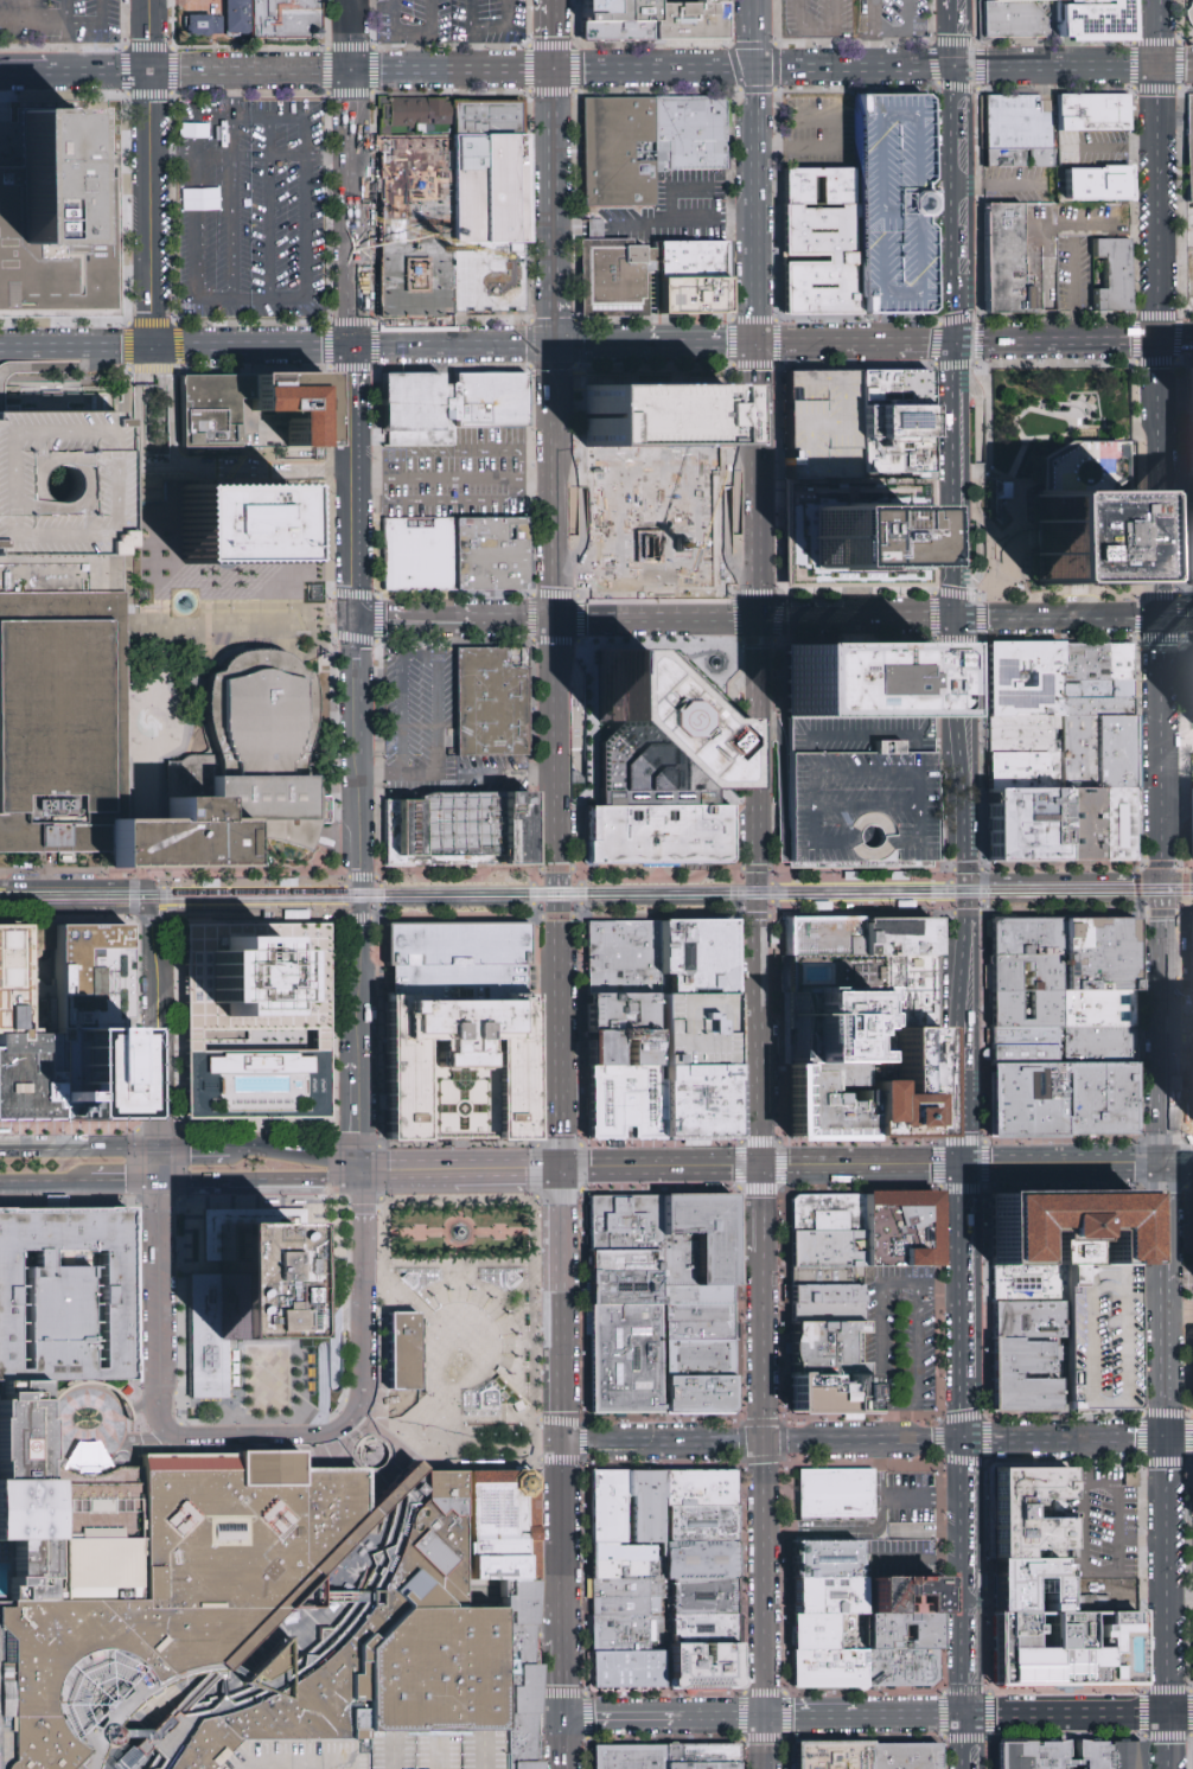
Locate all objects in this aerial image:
road: (549, 1)
road: (391, 4)
building: (619, 11)
road: (872, 15)
building: (1189, 17)
parking lot: (666, 18)
building: (221, 19)
parking lot: (821, 19)
building: (1020, 19)
building: (1092, 19)
parking lot: (454, 20)
parking lot: (893, 20)
parking lot: (59, 21)
road: (662, 21)
road: (25, 23)
road: (47, 23)
road: (83, 23)
building: (691, 23)
building: (288, 25)
road: (489, 26)
road: (905, 31)
road: (819, 32)
road: (394, 33)
building: (620, 33)
road: (755, 33)
road: (148, 34)
road: (550, 34)
road: (66, 46)
road: (471, 46)
road: (873, 49)
road: (663, 55)
traffic signals: (551, 65)
road: (350, 66)
road: (872, 66)
traffic signals: (350, 68)
traffic signals: (957, 68)
traffic signals: (1159, 68)
road: (97, 69)
traffic signals: (148, 69)
road: (24, 70)
road: (231, 94)
road: (755, 102)
building: (1093, 114)
building: (416, 116)
building: (491, 119)
power substation: (491, 119)
parking lot: (1017, 120)
road: (1045, 124)
parking lot: (822, 132)
building: (691, 134)
building: (1186, 146)
road: (831, 147)
parking lot: (1093, 149)
road: (1112, 149)
road: (551, 153)
building: (620, 153)
road: (249, 157)
road: (326, 157)
building: (1020, 161)
parking lot: (412, 171)
road: (433, 171)
road: (350, 172)
road: (1002, 186)
building: (1096, 186)
building: (823, 187)
road: (568, 189)
parking lot: (1020, 190)
building: (490, 191)
building: (894, 204)
parking lot: (894, 204)
road: (149, 207)
road: (231, 207)
road: (267, 207)
parking lot: (253, 212)
parking lot: (669, 216)
road: (742, 217)
parking lot: (1092, 221)
parking lot: (413, 222)
building: (57, 224)
road: (642, 226)
road: (397, 228)
parking lot: (1188, 228)
road: (757, 240)
road: (1047, 250)
road: (553, 254)
road: (1034, 256)
road: (194, 260)
building: (693, 261)
building: (823, 261)
building: (1020, 262)
building: (1111, 274)
parking lot: (1074, 276)
building: (491, 279)
building: (618, 280)
building: (419, 281)
road: (1074, 293)
building: (693, 298)
road: (553, 305)
road: (1176, 338)
traffic signals: (1161, 339)
road: (1060, 340)
road: (828, 341)
road: (929, 341)
traffic signals: (959, 341)
road: (703, 343)
traffic signals: (758, 343)
road: (500, 344)
traffic signals: (554, 344)
road: (253, 345)
traffic signals: (353, 345)
road: (75, 346)
traffic signals: (152, 346)
road: (153, 359)
road: (161, 359)
road: (145, 360)
road: (92, 362)
road: (15, 366)
road: (372, 366)
road: (177, 369)
road: (327, 369)
road: (64, 377)
road: (758, 377)
building: (1192, 389)
building: (491, 402)
building: (215, 410)
building: (289, 410)
building: (417, 410)
road: (154, 411)
road: (978, 411)
building: (657, 416)
road: (171, 420)
road: (138, 421)
building: (895, 424)
building: (823, 426)
road: (338, 453)
building: (1192, 462)
road: (153, 466)
road: (270, 467)
building: (1086, 467)
road: (541, 471)
road: (237, 477)
parking lot: (459, 478)
road: (554, 479)
road: (355, 480)
road: (455, 481)
road: (368, 484)
road: (1161, 486)
building: (60, 503)
parking lot: (68, 503)
road: (759, 512)
building: (240, 525)
parking lot: (232, 526)
building: (658, 531)
building: (861, 538)
building: (1082, 538)
road: (330, 548)
building: (1192, 550)
building: (493, 554)
building: (420, 555)
road: (1140, 562)
road: (959, 583)
road: (757, 593)
fountain: (184, 602)
road: (127, 608)
traffic signals: (760, 614)
road: (873, 614)
traffic signals: (961, 614)
traffic signals: (1161, 614)
road: (455, 615)
traffic signals: (555, 615)
traffic signals: (356, 617)
road: (736, 617)
road: (780, 617)
road: (754, 641)
road: (760, 650)
building: (717, 658)
building: (1096, 660)
fountain: (715, 662)
road: (435, 665)
building: (1025, 678)
road: (695, 679)
building: (860, 682)
building: (1096, 690)
building: (497, 702)
building: (1096, 707)
road: (732, 717)
road: (129, 719)
building: (60, 721)
parking lot: (423, 721)
helipad: (649, 724)
building: (1023, 733)
building: (653, 736)
building: (259, 751)
building: (1096, 753)
building: (1026, 771)
road: (846, 773)
parking lot: (497, 774)
road: (498, 774)
road: (544, 774)
road: (372, 777)
road: (781, 781)
building: (860, 791)
parking garage: (860, 791)
road: (939, 793)
road: (760, 797)
road: (859, 807)
building: (324, 810)
building: (1189, 823)
parking lot: (1189, 823)
building: (1117, 824)
building: (1080, 825)
building: (1026, 826)
building: (462, 831)
building: (659, 835)
building: (172, 838)
road: (146, 843)
fountain: (292, 852)
road: (153, 870)
road: (174, 873)
road: (363, 875)
railway: (339, 876)
road: (669, 879)
road: (1179, 879)
road: (161, 880)
traffic signals: (1166, 880)
road: (253, 881)
building: (285, 881)
road: (1064, 881)
traffic signals: (962, 882)
road: (74, 883)
railway: (862, 883)
railway: (675, 889)
railway: (78, 893)
road: (157, 893)
road: (361, 893)
road: (556, 893)
road: (345, 895)
railway: (595, 899)
railway: (862, 900)
road: (253, 907)
traffic signals: (157, 908)
road: (781, 908)
road: (78, 909)
railway: (170, 912)
building: (293, 913)
road: (183, 914)
road: (236, 914)
road: (361, 915)
road: (139, 919)
road: (165, 921)
road: (172, 924)
road: (155, 927)
building: (901, 938)
building: (1028, 938)
building: (824, 939)
building: (1101, 956)
building: (461, 959)
parking lot: (461, 959)
building: (626, 960)
building: (697, 960)
building: (1028, 975)
building: (90, 976)
parking garage: (90, 976)
building: (823, 976)
building: (12, 979)
road: (544, 979)
road: (377, 981)
building: (253, 985)
building: (904, 985)
building: (1101, 1009)
building: (1029, 1010)
building: (621, 1014)
building: (824, 1027)
building: (697, 1034)
building: (1025, 1037)
road: (763, 1039)
road: (168, 1045)
road: (193, 1045)
road: (213, 1045)
building: (1101, 1046)
road: (157, 1047)
road: (327, 1050)
building: (621, 1050)
road: (254, 1052)
road: (179, 1053)
building: (1025, 1056)
building: (465, 1069)
road: (1163, 1069)
building: (94, 1073)
building: (901, 1073)
building: (30, 1077)
building: (254, 1090)
building: (825, 1099)
building: (1102, 1100)
building: (1029, 1101)
building: (625, 1105)
building: (696, 1105)
road: (177, 1116)
traffic signals: (158, 1119)
traffic signals: (359, 1135)
road: (193, 1147)
road: (78, 1148)
traffic signals: (187, 1148)
road: (295, 1152)
road: (158, 1166)
road: (1178, 1166)
road: (1064, 1167)
traffic signals: (1163, 1167)
road: (863, 1168)
traffic signals: (964, 1168)
road: (661, 1169)
traffic signals: (764, 1169)
road: (522, 1170)
traffic signals: (559, 1170)
road: (422, 1171)
road: (259, 1183)
road: (45, 1184)
road: (125, 1184)
traffic signals: (125, 1184)
road: (464, 1195)
road: (764, 1212)
building: (831, 1213)
road: (471, 1222)
building: (627, 1224)
building: (1061, 1224)
road: (518, 1231)
building: (902, 1231)
road: (404, 1232)
fountain: (461, 1233)
building: (698, 1241)
parking lot: (104, 1252)
road: (143, 1252)
building: (827, 1252)
building: (1061, 1252)
road: (464, 1258)
building: (627, 1262)
road: (460, 1271)
building: (511, 1278)
building: (829, 1278)
building: (412, 1279)
building: (1027, 1283)
building: (241, 1286)
building: (627, 1290)
building: (66, 1296)
building: (700, 1297)
building: (829, 1297)
road: (951, 1297)
road: (917, 1298)
road: (561, 1308)
road: (1179, 1314)
park: (467, 1317)
building: (829, 1318)
building: (1026, 1320)
building: (700, 1323)
road: (882, 1334)
building: (1099, 1337)
parking lot: (1099, 1337)
parking lot: (900, 1341)
road: (765, 1349)
building: (830, 1353)
building: (398, 1355)
fountain: (467, 1355)
building: (1019, 1356)
building: (700, 1358)
building: (629, 1361)
road: (917, 1365)
building: (830, 1393)
building: (1022, 1393)
building: (700, 1394)
building: (489, 1397)
helipad: (11, 1406)
road: (19, 1416)
road: (50, 1416)
road: (263, 1428)
road: (65, 1437)
traffic signals: (1166, 1438)
road: (393, 1439)
road: (140, 1441)
road: (978, 1441)
traffic signals: (965, 1442)
road: (664, 1445)
traffic signals: (766, 1445)
road: (19, 1447)
road: (59, 1447)
traffic signals: (562, 1447)
road: (448, 1458)
road: (517, 1458)
road: (1166, 1467)
road: (965, 1468)
building: (700, 1489)
building: (836, 1495)
road: (931, 1496)
building: (1014, 1500)
building: (627, 1508)
building: (57, 1520)
parking lot: (906, 1520)
road: (1083, 1521)
building: (700, 1526)
road: (1115, 1526)
building: (502, 1527)
road: (865, 1531)
parking lot: (1104, 1535)
road: (562, 1543)
building: (827, 1556)
road: (918, 1557)
building: (624, 1563)
building: (696, 1563)
road: (767, 1579)
building: (1034, 1580)
building: (904, 1588)
building: (834, 1590)
building: (626, 1598)
building: (704, 1599)
building: (706, 1628)
building: (817, 1630)
building: (888, 1630)
building: (621, 1634)
building: (1072, 1648)
building: (706, 1658)
building: (629, 1668)
building: (831, 1669)
building: (902, 1669)
road: (563, 1678)
road: (863, 1692)
road: (664, 1693)
road: (562, 1694)
road: (1065, 1712)
traffic signals: (1167, 1712)
road: (898, 1713)
traffic signals: (966, 1713)
road: (624, 1714)
road: (709, 1714)
road: (751, 1714)
traffic signals: (768, 1714)
road: (784, 1714)
road: (814, 1714)
road: (943, 1714)
road: (550, 1716)
traffic signals: (564, 1716)
road: (585, 1719)
road: (516, 1725)
road: (863, 1738)
building: (516, 1741)
road: (564, 1742)
road: (768, 1742)
building: (428, 1748)
parking lot: (428, 1748)
building: (1028, 1752)
building: (696, 1754)
building: (1109, 1755)
building: (626, 1757)
building: (836, 1757)
building: (905, 1757)
building: (697, 1765)

